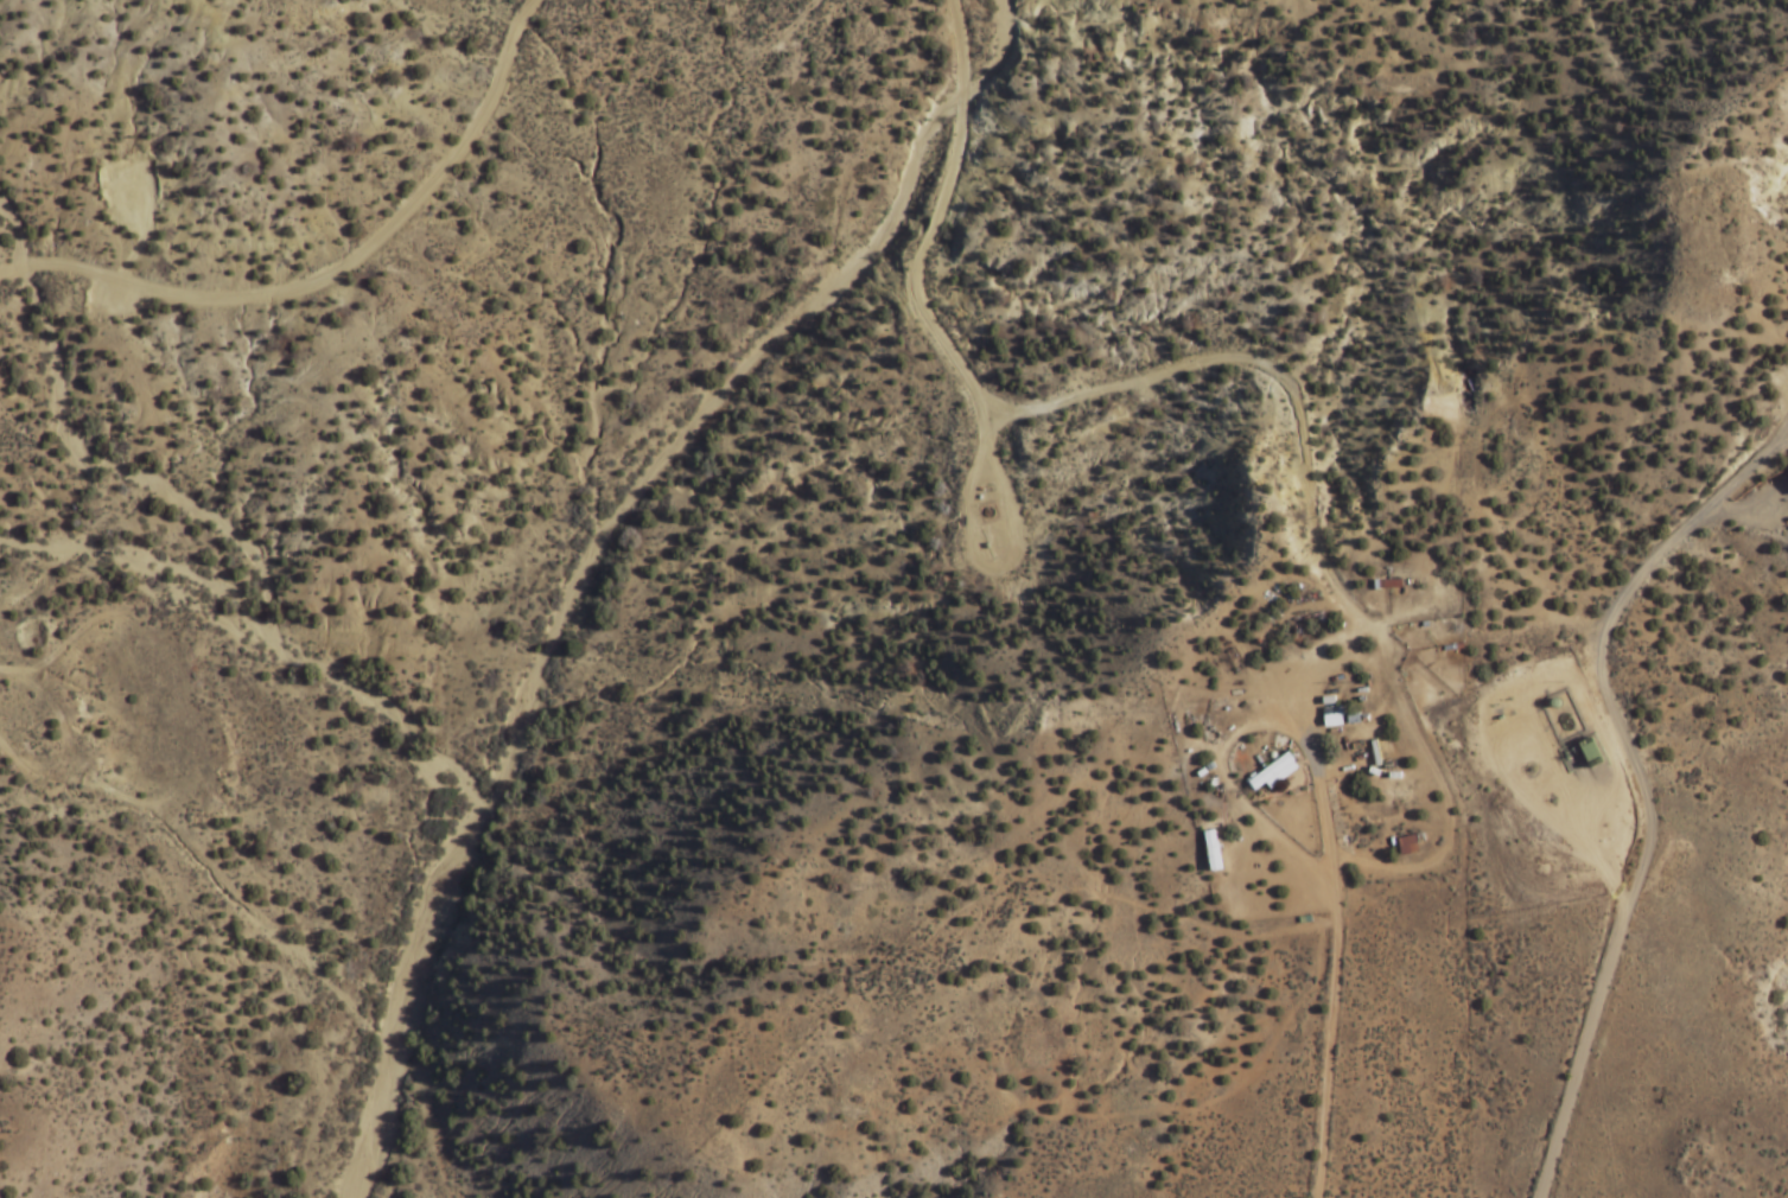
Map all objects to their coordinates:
road: (784, 31)
road: (332, 270)
road: (1057, 402)
road: (1783, 429)
road: (1784, 436)
road: (1474, 476)
road: (1751, 510)
road: (978, 561)
building: (1387, 584)
road: (1598, 641)
building: (1326, 700)
building: (1351, 716)
building: (1331, 719)
road: (66, 743)
building: (1590, 752)
building: (1374, 753)
road: (1510, 769)
building: (1273, 772)
road: (1442, 790)
road: (1237, 798)
building: (1406, 843)
building: (1211, 849)
road: (1332, 885)
road: (1579, 1050)

